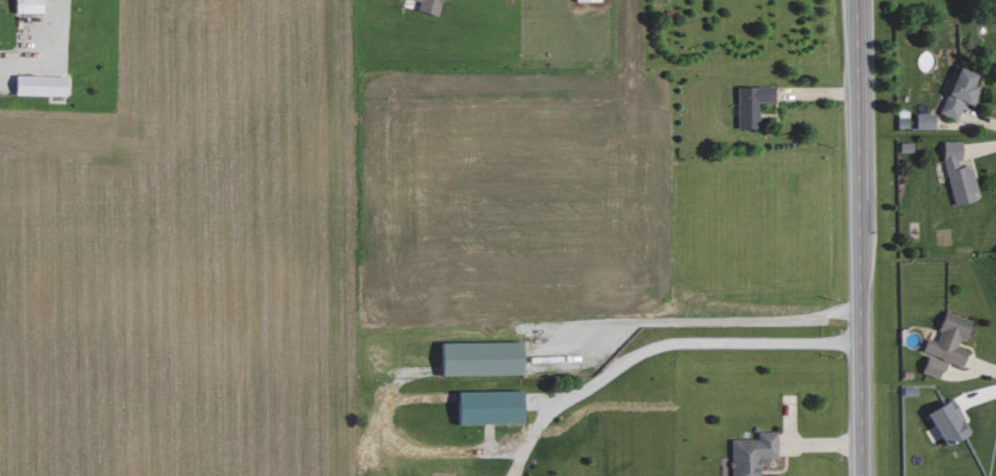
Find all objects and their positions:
building: (586, 0)
building: (961, 0)
building: (27, 5)
building: (428, 6)
road: (46, 45)
building: (39, 85)
building: (959, 93)
building: (750, 105)
building: (924, 121)
building: (902, 122)
building: (905, 147)
building: (957, 175)
road: (859, 238)
building: (948, 339)
road: (697, 345)
building: (481, 357)
building: (932, 366)
building: (488, 405)
building: (947, 421)
building: (751, 453)

